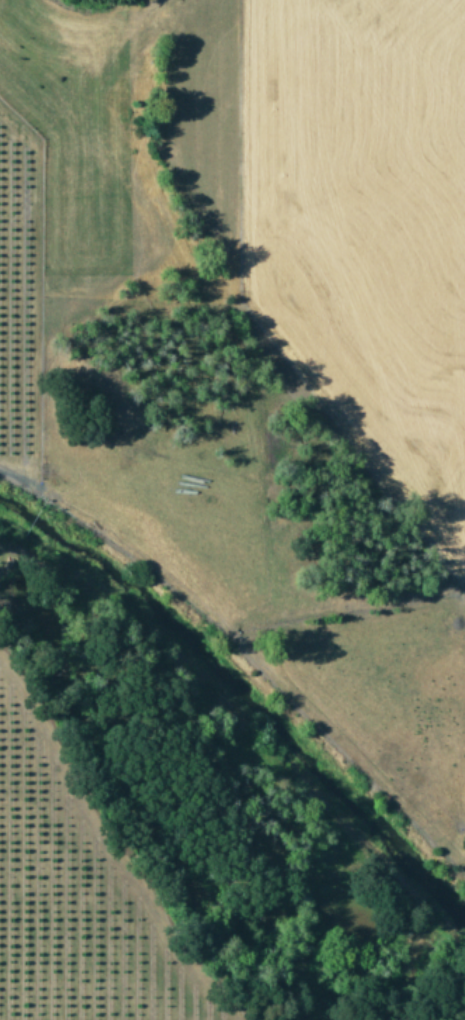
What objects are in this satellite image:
crop: (306, 195)

